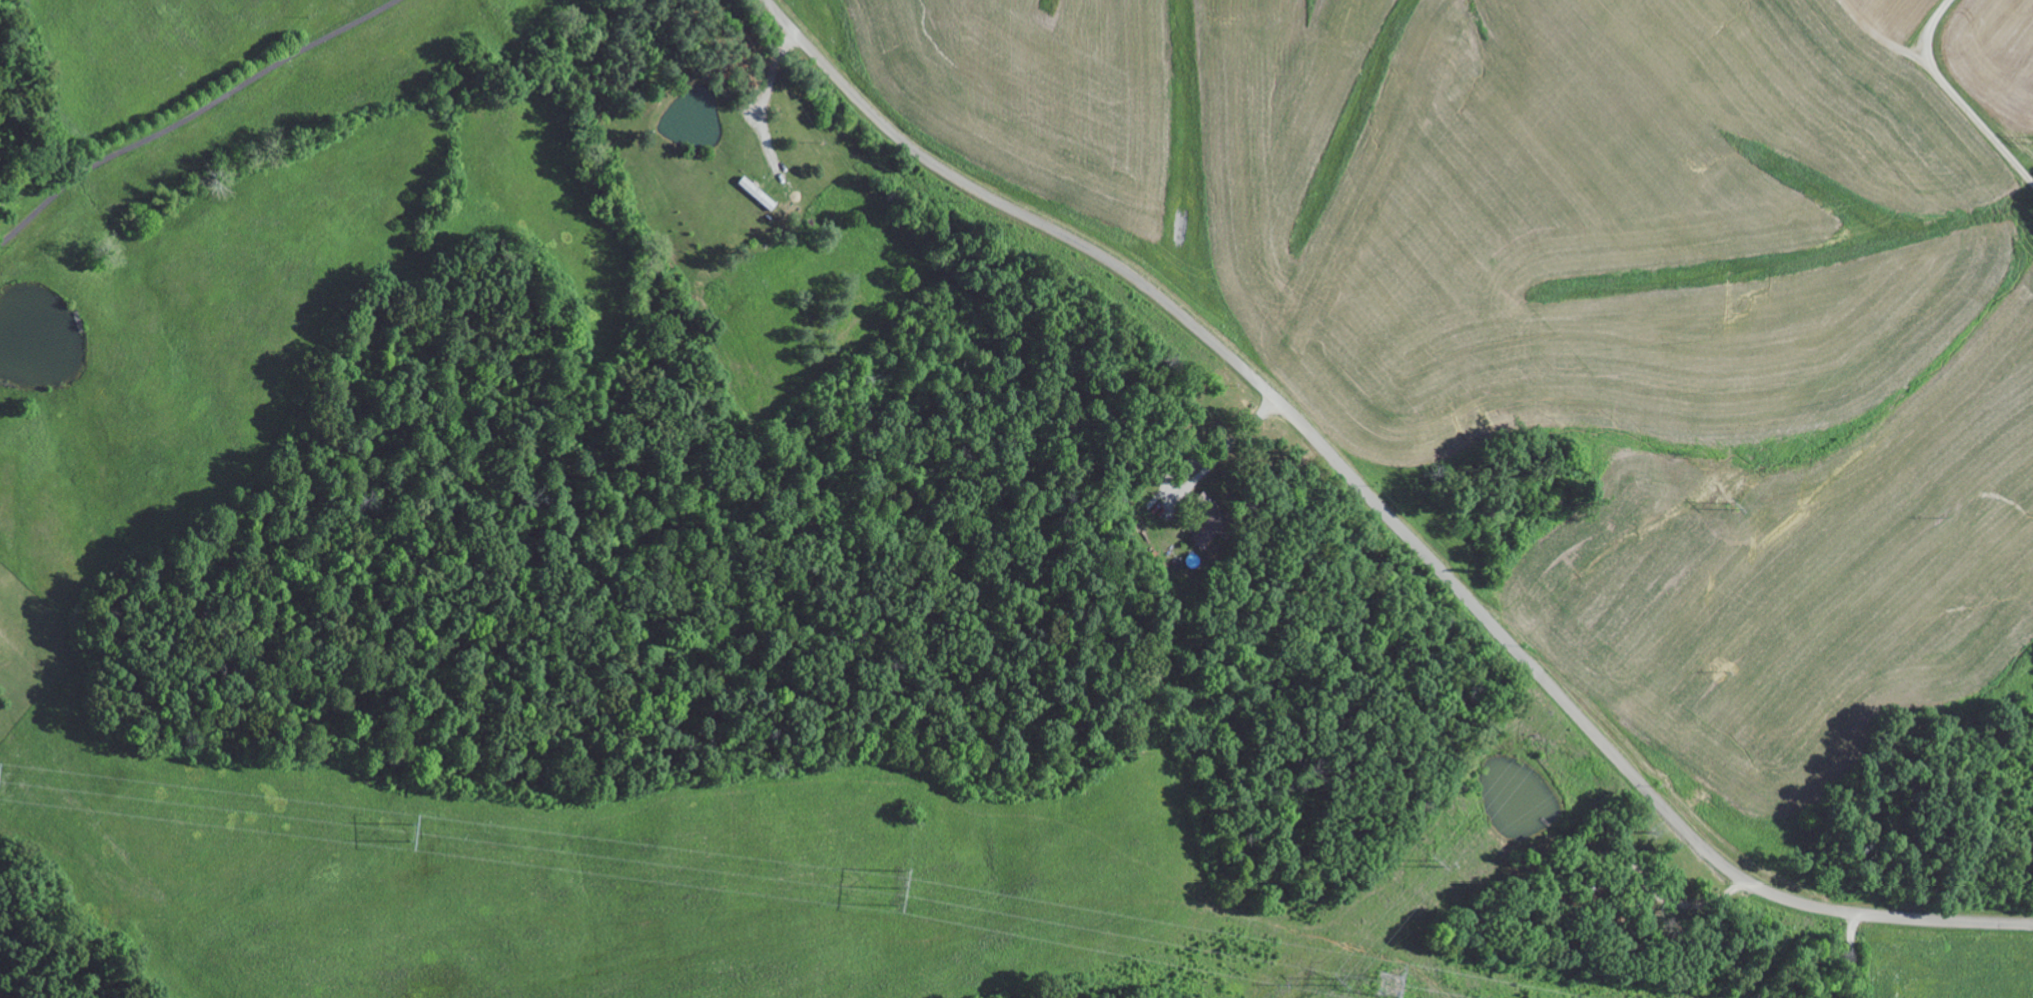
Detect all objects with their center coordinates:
road: (1954, 98)
road: (195, 116)
building: (759, 194)
road: (1373, 521)
building: (1209, 527)
power tower: (407, 830)
power tower: (902, 888)
power tower: (1394, 985)

